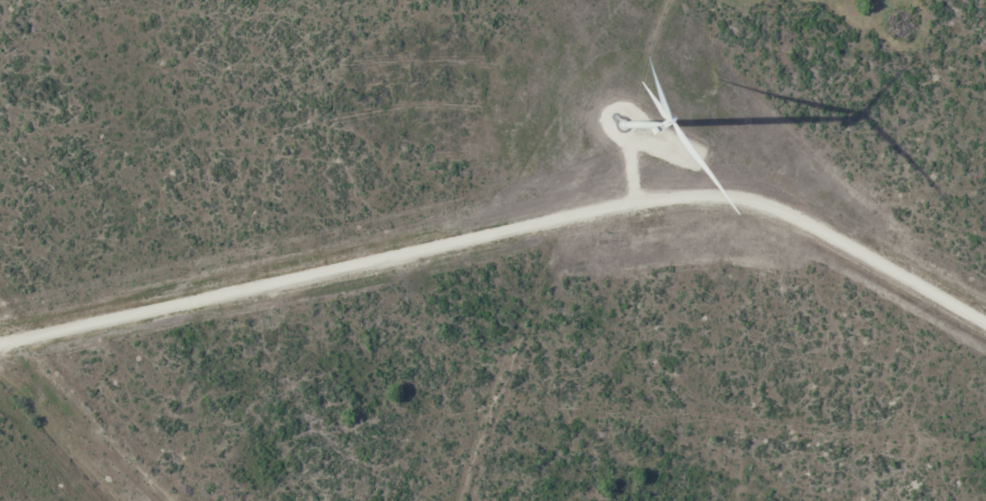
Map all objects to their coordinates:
wind turbine: (617, 114)

